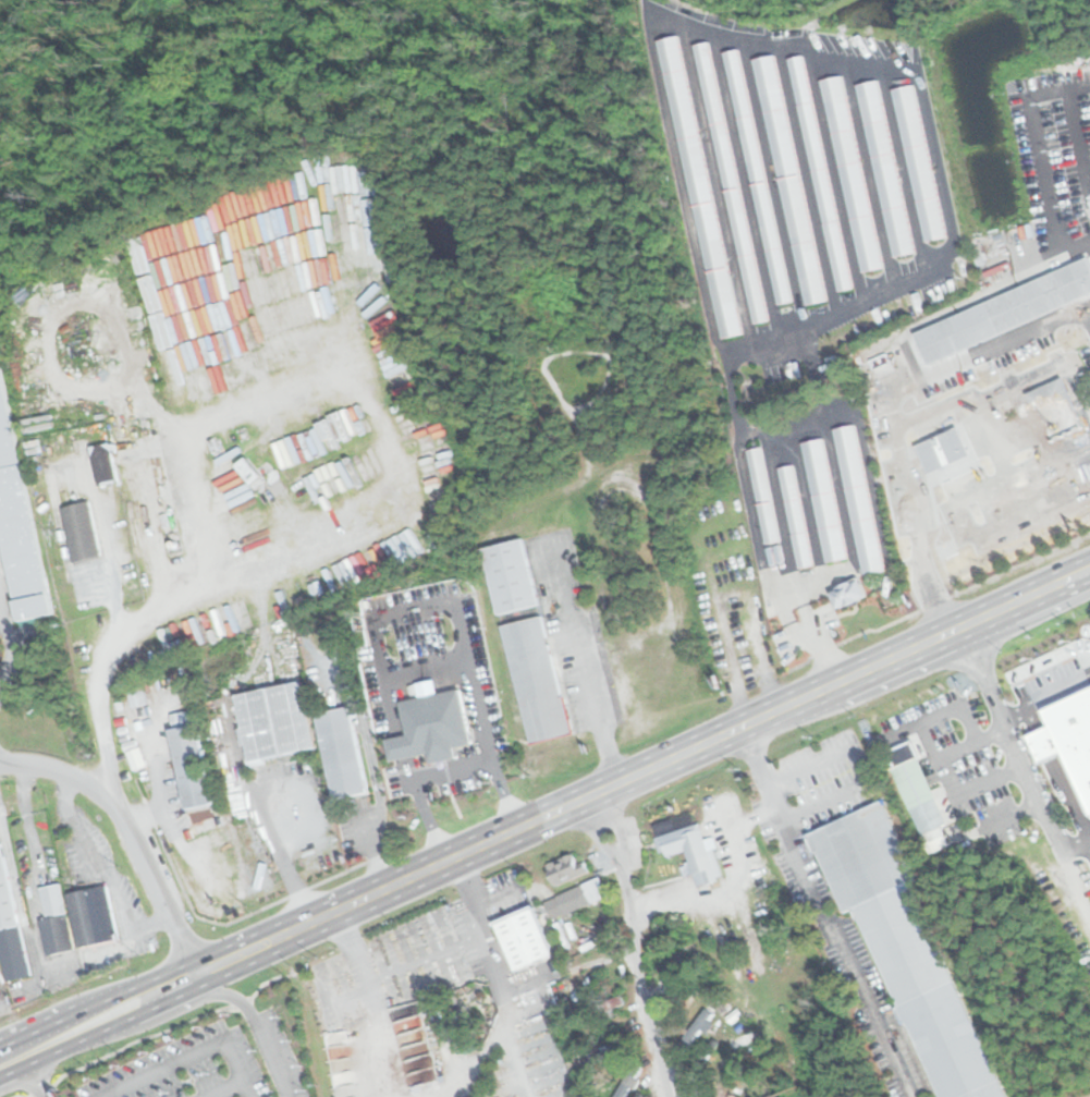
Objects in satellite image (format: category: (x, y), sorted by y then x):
building: (918, 161)
building: (884, 169)
building: (819, 173)
building: (850, 174)
building: (757, 176)
building: (788, 180)
building: (730, 182)
building: (697, 186)
building: (1004, 310)
building: (1054, 411)
building: (942, 450)
building: (102, 464)
building: (247, 470)
building: (762, 495)
building: (858, 499)
building: (823, 500)
building: (795, 516)
building: (16, 528)
building: (81, 532)
building: (509, 576)
building: (847, 594)
road: (151, 613)
building: (737, 637)
building: (535, 679)
road: (982, 681)
building: (159, 690)
building: (136, 697)
building: (272, 721)
building: (434, 723)
building: (1074, 731)
building: (399, 746)
building: (339, 753)
building: (135, 758)
building: (188, 766)
road: (444, 769)
road: (644, 770)
road: (852, 771)
road: (945, 775)
building: (917, 791)
road: (1037, 802)
road: (128, 831)
road: (1073, 837)
building: (693, 853)
building: (564, 868)
road: (730, 886)
building: (565, 901)
road: (822, 912)
building: (93, 917)
building: (53, 919)
building: (10, 931)
building: (523, 939)
road: (633, 943)
building: (904, 948)
building: (1, 980)
road: (97, 1003)
road: (115, 1023)
road: (255, 1023)
building: (698, 1026)
road: (191, 1055)
road: (17, 1068)
road: (3, 1073)
building: (260, 1073)
road: (35, 1080)
road: (224, 1088)

